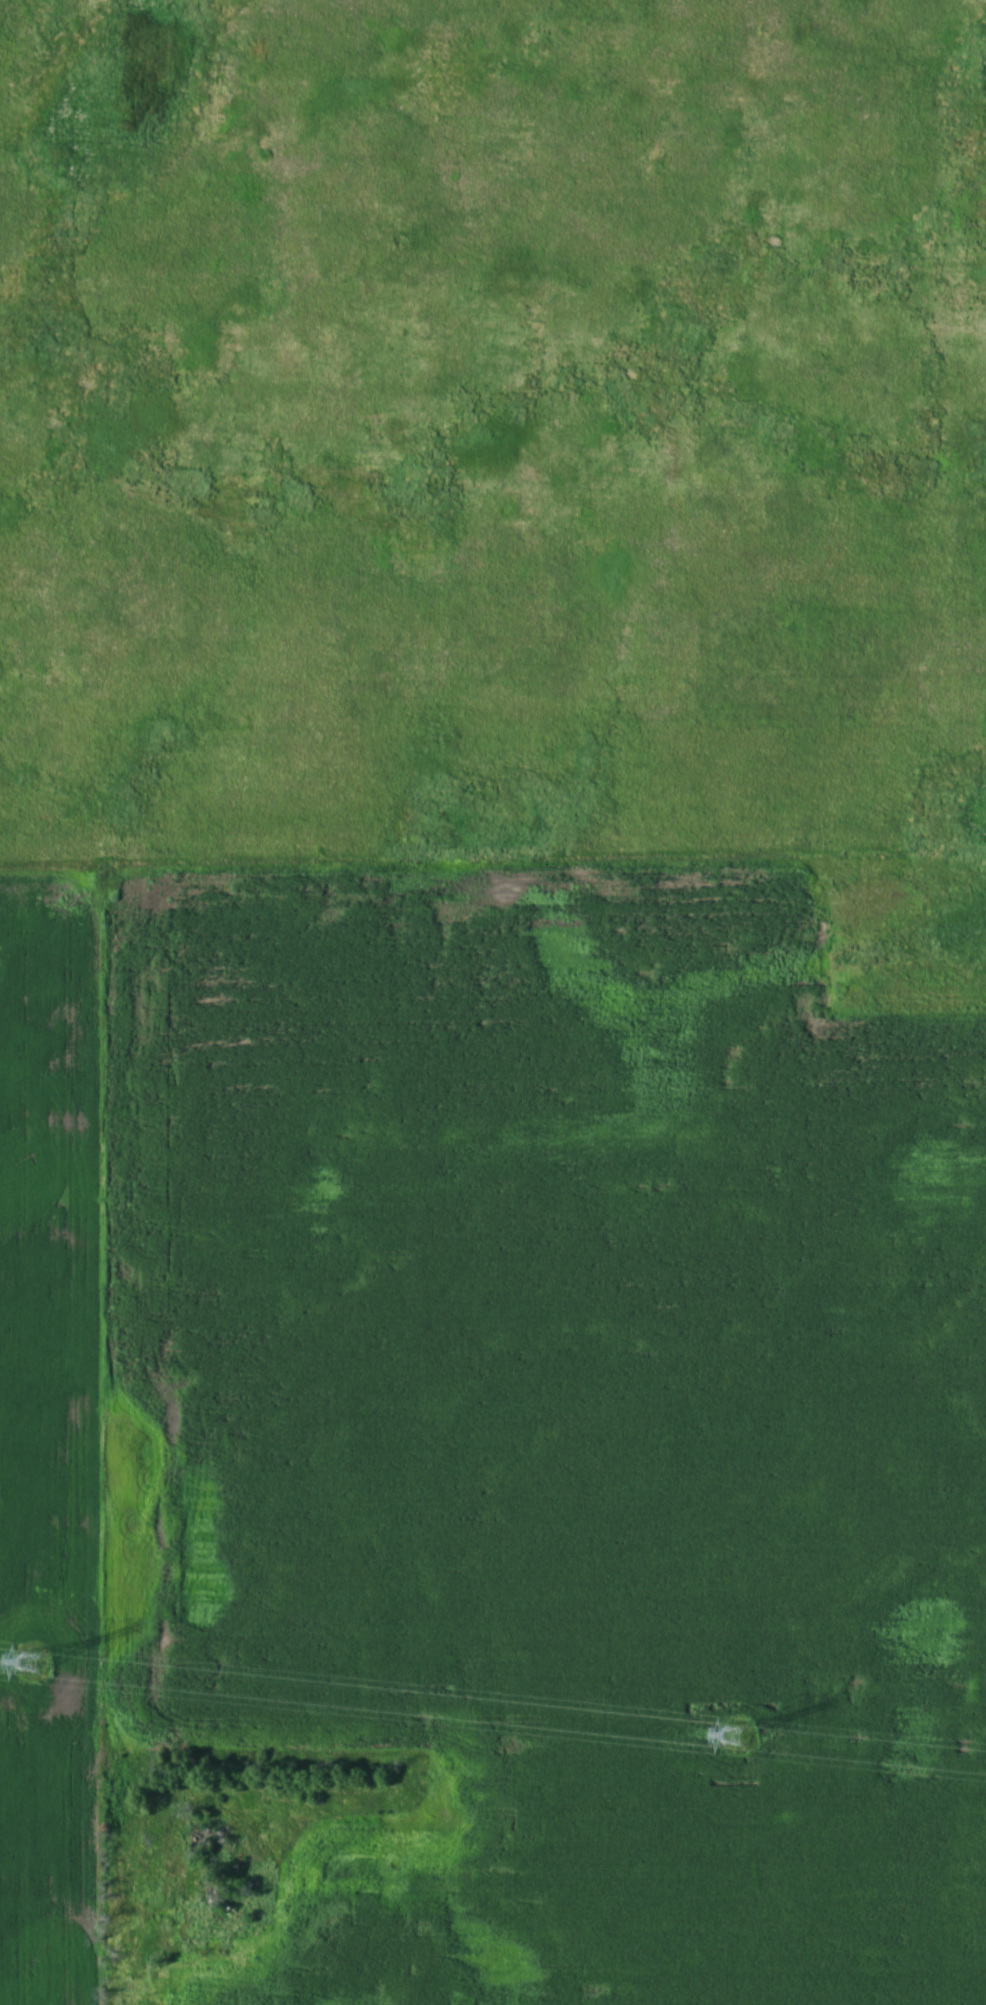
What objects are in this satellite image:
power tower: (28, 1656)
power tower: (742, 1729)

